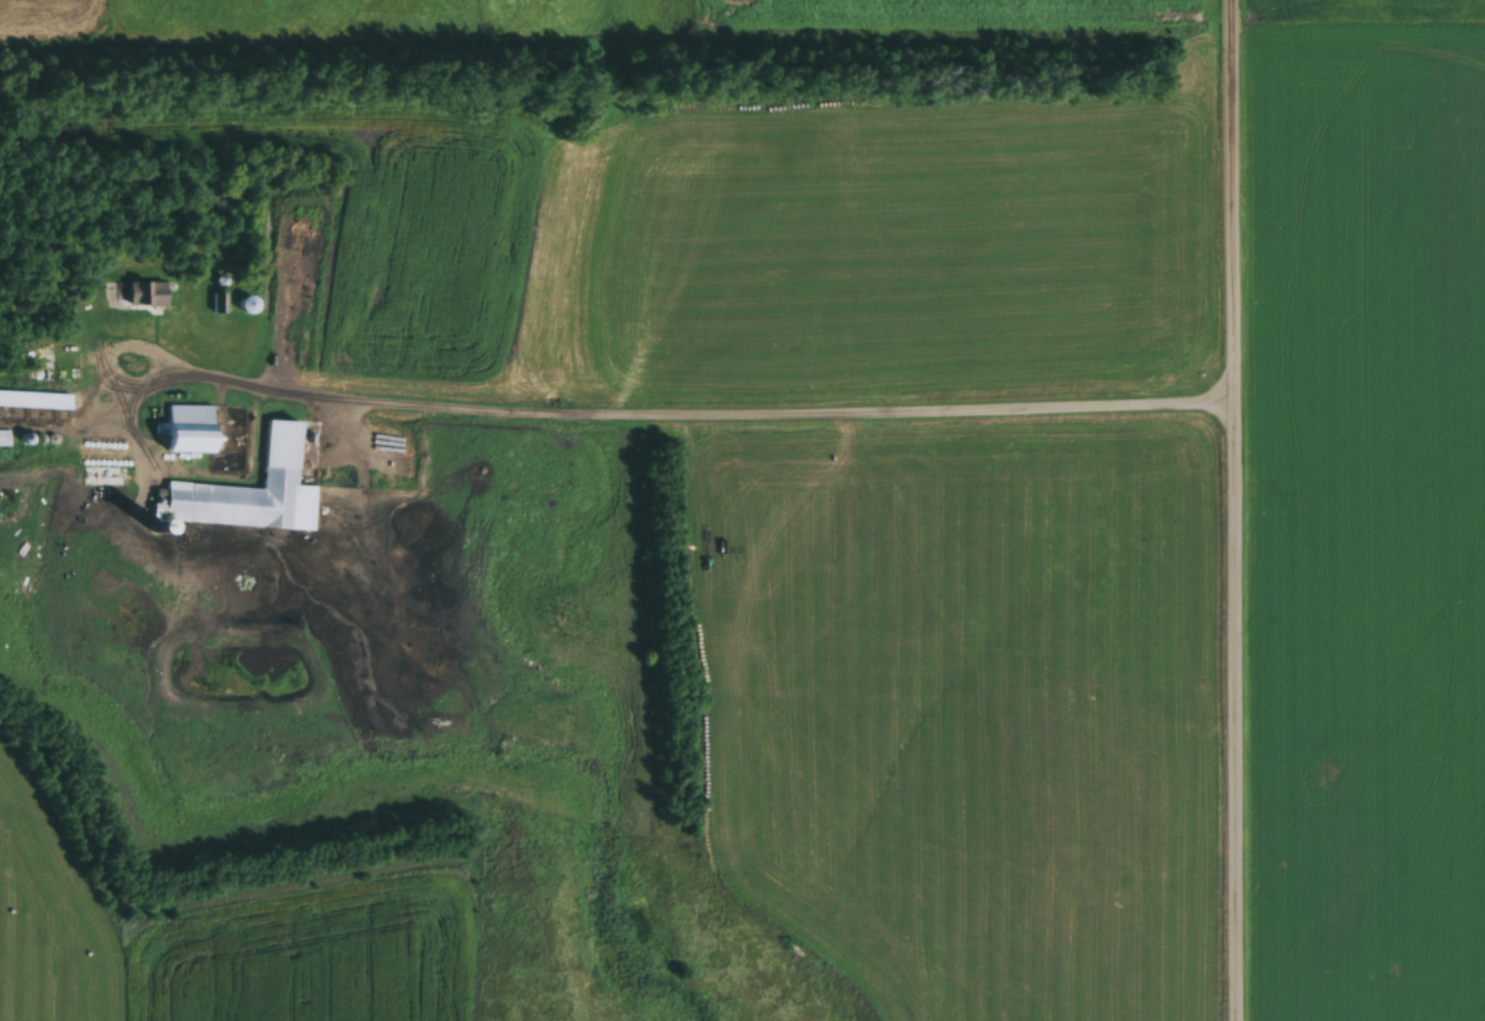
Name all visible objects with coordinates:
building: (301, 245)
building: (147, 294)
building: (248, 305)
building: (189, 429)
building: (4, 438)
building: (246, 500)
road: (1240, 510)

